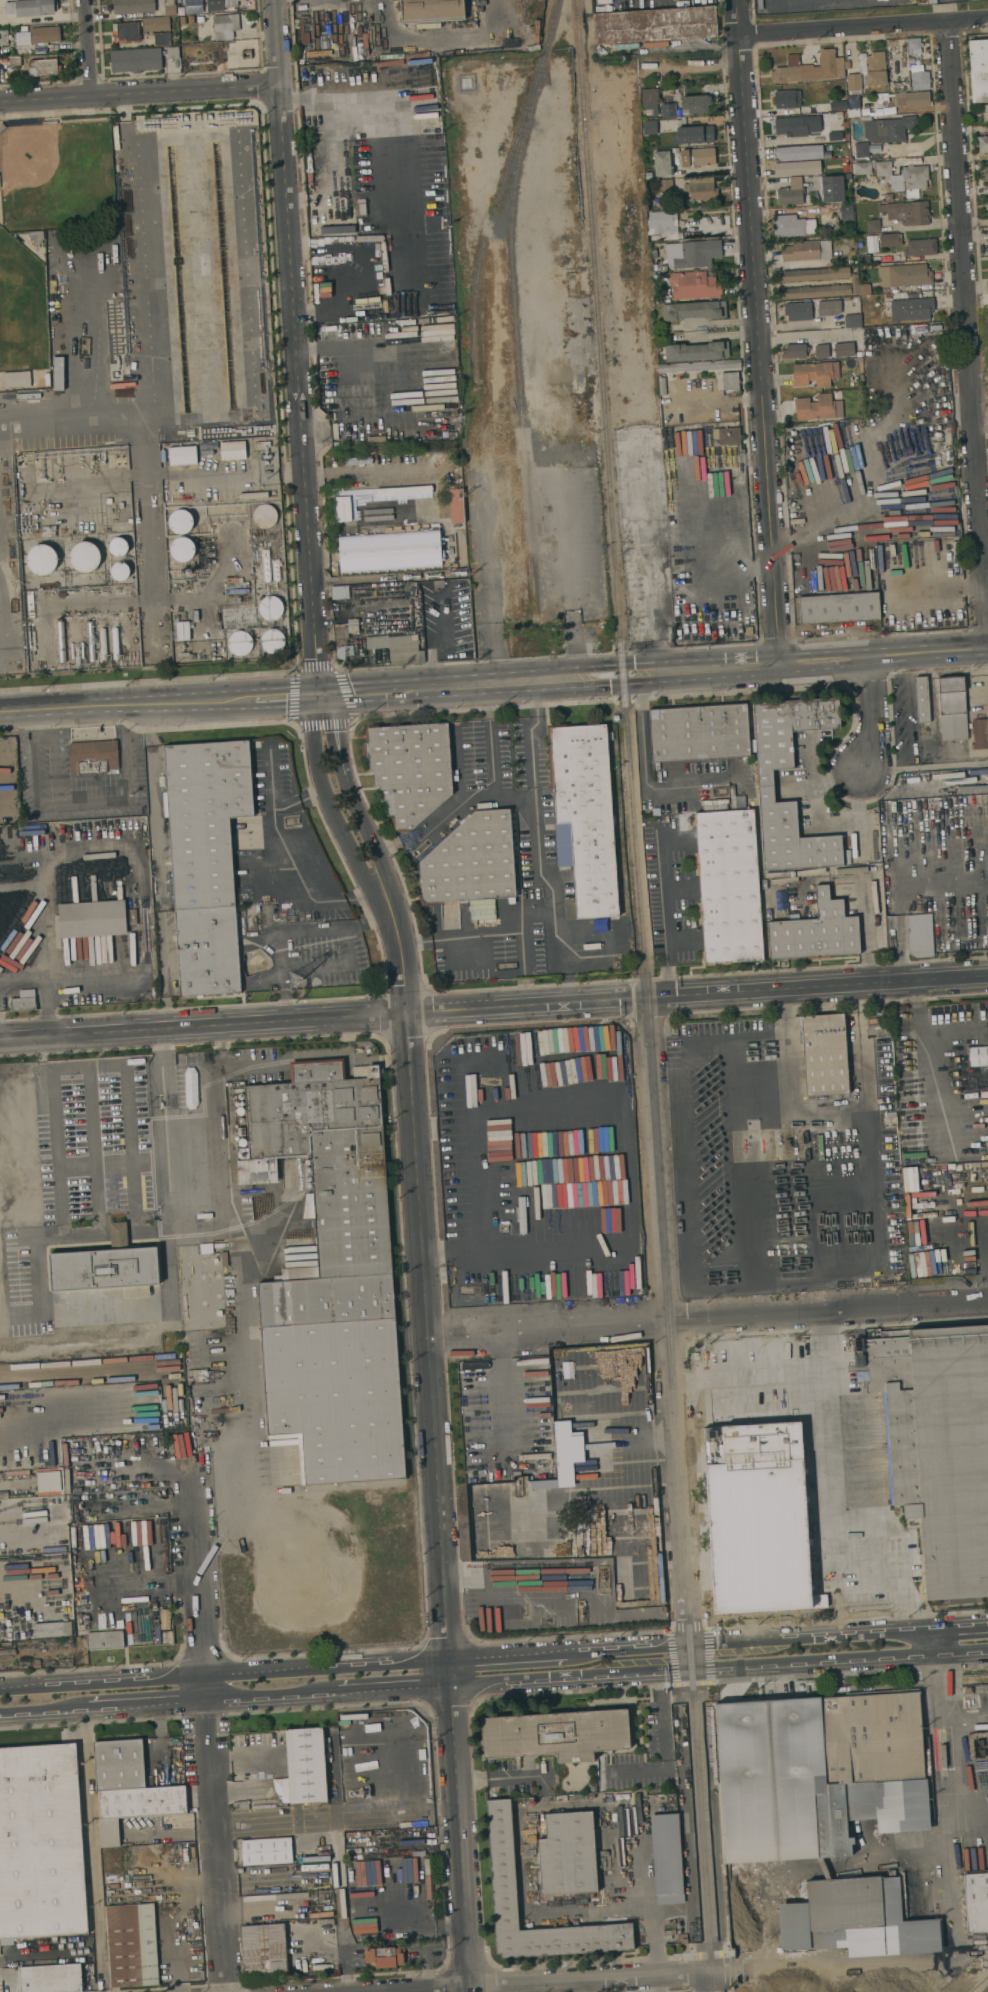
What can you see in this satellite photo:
building: (221, 4)
building: (133, 6)
building: (30, 7)
building: (170, 7)
building: (432, 10)
building: (156, 24)
building: (656, 25)
road: (862, 25)
building: (225, 26)
building: (304, 29)
building: (126, 32)
building: (45, 35)
building: (3, 37)
building: (163, 39)
building: (914, 45)
road: (87, 48)
road: (661, 50)
building: (978, 55)
building: (142, 58)
building: (15, 60)
building: (46, 66)
building: (810, 68)
building: (868, 72)
building: (901, 75)
building: (920, 80)
building: (902, 86)
building: (979, 86)
road: (139, 93)
building: (651, 99)
building: (788, 99)
building: (913, 99)
building: (838, 103)
building: (695, 104)
railway: (526, 109)
building: (669, 110)
building: (854, 112)
building: (985, 113)
building: (798, 125)
building: (2, 126)
building: (650, 127)
building: (888, 129)
building: (696, 134)
building: (983, 143)
building: (862, 150)
building: (798, 153)
building: (698, 157)
building: (662, 163)
park: (54, 175)
building: (899, 176)
building: (986, 176)
building: (0, 182)
building: (666, 186)
building: (701, 189)
building: (833, 189)
building: (792, 193)
building: (887, 197)
building: (987, 203)
building: (986, 206)
building: (362, 209)
building: (847, 212)
building: (907, 212)
park: (42, 225)
building: (663, 225)
building: (792, 225)
building: (873, 225)
building: (336, 229)
building: (37, 236)
building: (890, 239)
railway: (482, 245)
building: (921, 247)
building: (806, 250)
building: (695, 254)
building: (865, 258)
building: (663, 268)
building: (812, 275)
building: (905, 275)
building: (855, 284)
building: (694, 285)
building: (987, 287)
building: (865, 289)
building: (813, 291)
building: (856, 301)
park: (21, 307)
building: (829, 307)
building: (912, 309)
building: (693, 310)
building: (799, 310)
road: (967, 313)
building: (853, 320)
road: (731, 322)
road: (148, 331)
road: (758, 331)
road: (733, 334)
road: (800, 336)
road: (297, 347)
building: (844, 349)
building: (795, 350)
building: (697, 351)
building: (822, 351)
railway: (600, 352)
building: (701, 366)
building: (59, 373)
building: (815, 373)
building: (16, 379)
building: (731, 381)
building: (663, 386)
road: (722, 398)
building: (818, 408)
railway: (521, 420)
road: (354, 425)
building: (443, 431)
building: (727, 435)
building: (233, 450)
building: (943, 454)
building: (184, 455)
road: (356, 472)
road: (161, 475)
building: (457, 505)
building: (265, 515)
storage tank: (265, 515)
building: (179, 521)
storage tank: (179, 521)
road: (813, 540)
building: (118, 546)
storage tank: (118, 546)
building: (181, 549)
storage tank: (181, 549)
building: (83, 556)
storage tank: (83, 556)
building: (42, 559)
storage tank: (42, 559)
building: (266, 565)
building: (276, 569)
building: (120, 571)
storage tank: (120, 571)
building: (954, 571)
building: (339, 592)
building: (839, 607)
building: (271, 608)
storage tank: (271, 608)
building: (183, 630)
building: (749, 631)
building: (344, 636)
building: (61, 641)
building: (91, 641)
building: (273, 641)
storage tank: (273, 641)
building: (116, 643)
building: (240, 643)
storage tank: (240, 643)
building: (104, 644)
building: (398, 647)
road: (654, 672)
traffic signals: (320, 695)
building: (922, 699)
road: (159, 703)
building: (953, 708)
road: (874, 714)
road: (34, 719)
building: (699, 733)
building: (980, 733)
building: (94, 757)
road: (54, 760)
road: (926, 768)
building: (410, 769)
road: (270, 778)
road: (494, 780)
road: (460, 783)
building: (766, 785)
road: (93, 802)
road: (533, 810)
building: (584, 815)
building: (205, 818)
road: (284, 857)
building: (472, 862)
building: (729, 887)
road: (662, 913)
building: (133, 916)
building: (92, 919)
road: (292, 931)
building: (816, 932)
road: (487, 935)
building: (920, 935)
road: (521, 950)
building: (207, 951)
road: (43, 985)
building: (24, 1000)
road: (494, 1007)
building: (825, 1054)
road: (39, 1055)
building: (978, 1056)
road: (282, 1058)
road: (931, 1068)
road: (170, 1077)
road: (152, 1078)
building: (241, 1096)
road: (53, 1103)
building: (241, 1110)
road: (828, 1113)
road: (628, 1117)
road: (202, 1118)
building: (239, 1132)
building: (242, 1142)
road: (482, 1187)
road: (169, 1213)
road: (60, 1225)
road: (119, 1235)
building: (207, 1248)
road: (506, 1251)
building: (225, 1258)
building: (105, 1265)
building: (332, 1279)
road: (707, 1318)
road: (245, 1326)
road: (426, 1336)
railway: (667, 1347)
road: (83, 1358)
road: (505, 1385)
building: (709, 1388)
road: (186, 1417)
road: (24, 1426)
building: (937, 1445)
building: (48, 1480)
road: (681, 1494)
road: (832, 1502)
road: (67, 1529)
petroleum well: (602, 1579)
road: (147, 1582)
petroleum well: (580, 1609)
building: (52, 1629)
building: (105, 1639)
road: (782, 1649)
road: (513, 1667)
road: (226, 1674)
building: (981, 1688)
road: (227, 1698)
road: (207, 1731)
building: (556, 1734)
road: (664, 1740)
road: (945, 1744)
road: (245, 1758)
building: (977, 1760)
building: (306, 1764)
building: (817, 1773)
road: (501, 1781)
building: (129, 1788)
building: (622, 1796)
building: (240, 1805)
road: (307, 1817)
building: (608, 1839)
building: (40, 1843)
road: (92, 1849)
building: (267, 1851)
building: (568, 1854)
building: (666, 1858)
building: (502, 1861)
building: (976, 1902)
building: (852, 1921)
building: (132, 1945)
building: (264, 1949)
building: (383, 1957)
road: (610, 1978)
building: (52, 1979)
road: (589, 1986)
building: (868, 1987)
railway: (985, 1989)

